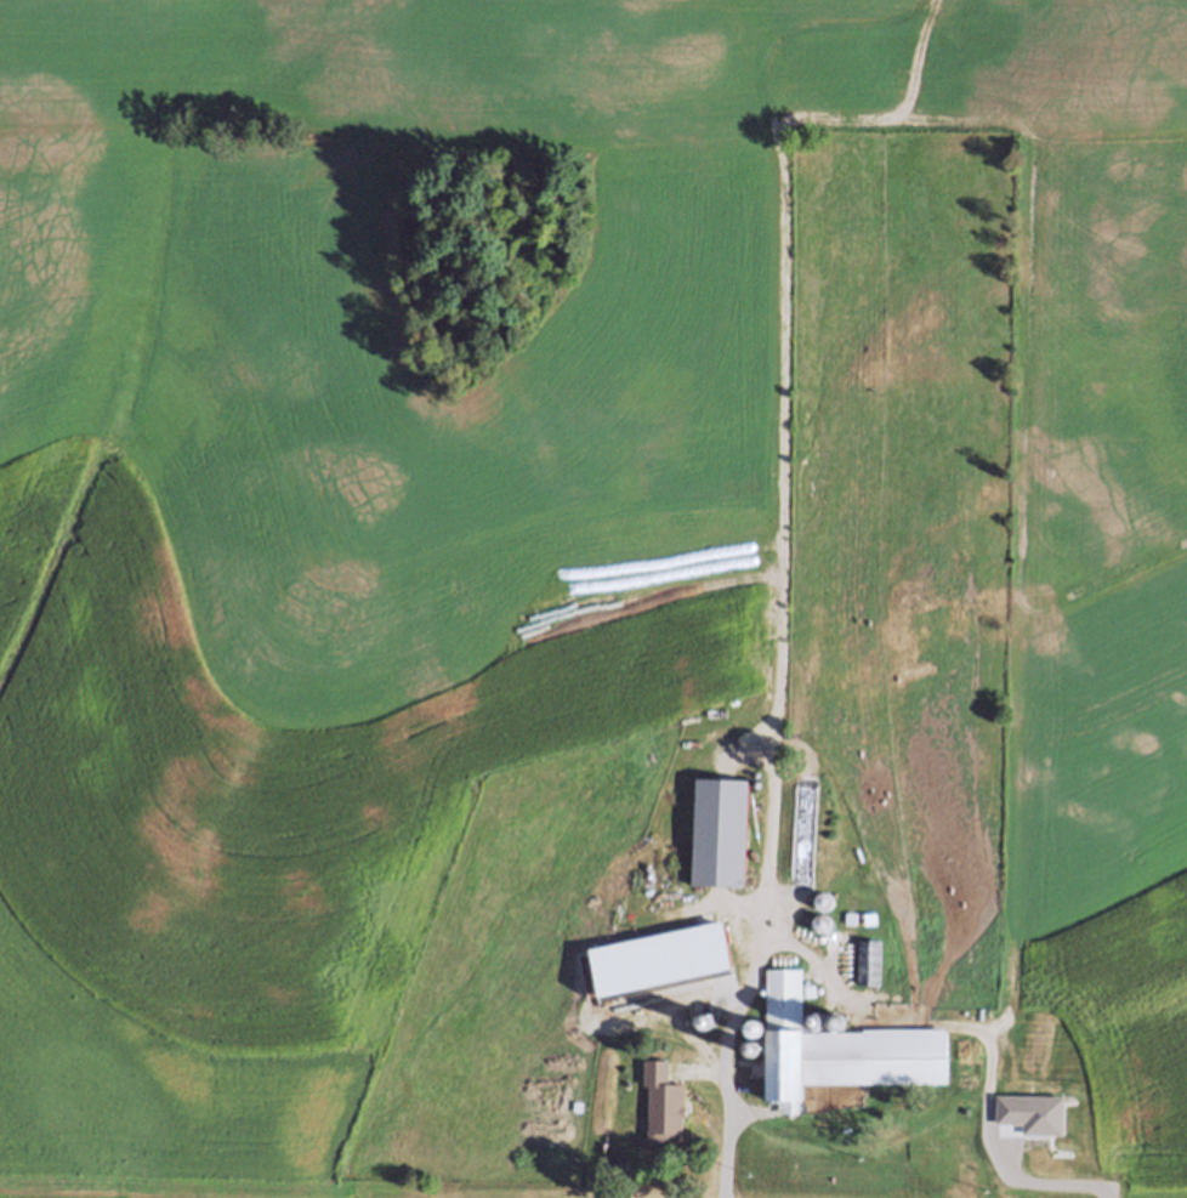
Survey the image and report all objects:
building: (716, 827)
building: (752, 846)
building: (716, 941)
building: (870, 961)
road: (744, 988)
building: (686, 989)
building: (831, 1049)
building: (661, 1101)
building: (965, 1165)

